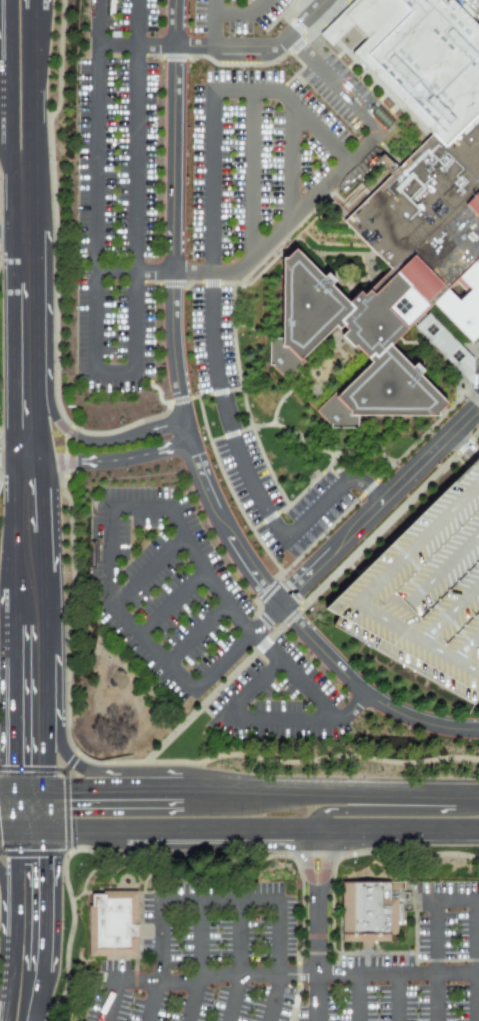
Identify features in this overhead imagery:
road: (43, 5)
road: (240, 13)
road: (211, 22)
road: (42, 45)
road: (218, 45)
building: (421, 58)
road: (3, 83)
road: (333, 83)
road: (2, 90)
road: (244, 93)
road: (42, 122)
road: (312, 127)
road: (288, 163)
road: (250, 176)
road: (94, 185)
road: (134, 185)
road: (306, 202)
road: (13, 233)
road: (26, 259)
road: (165, 271)
building: (400, 274)
road: (112, 372)
road: (218, 389)
road: (189, 436)
road: (86, 438)
road: (15, 454)
road: (112, 459)
road: (380, 505)
road: (137, 508)
road: (146, 571)
road: (30, 573)
building: (428, 588)
parking garage: (428, 588)
road: (170, 604)
road: (118, 612)
road: (239, 622)
road: (196, 634)
road: (15, 636)
road: (236, 648)
road: (261, 721)
traffic signals: (27, 763)
road: (113, 771)
road: (14, 789)
traffic signals: (77, 790)
road: (253, 791)
road: (20, 809)
road: (391, 809)
road: (36, 810)
road: (28, 830)
road: (261, 830)
road: (6, 836)
traffic signals: (45, 867)
road: (316, 892)
road: (4, 895)
road: (231, 898)
road: (429, 900)
road: (44, 901)
building: (372, 910)
road: (9, 915)
building: (113, 923)
road: (199, 940)
road: (237, 940)
road: (336, 976)
road: (134, 986)
road: (315, 987)
road: (40, 996)
road: (432, 997)
road: (356, 998)
road: (395, 998)
road: (231, 1001)
road: (190, 1002)
road: (151, 1003)
road: (1, 1011)
road: (478, 1014)

